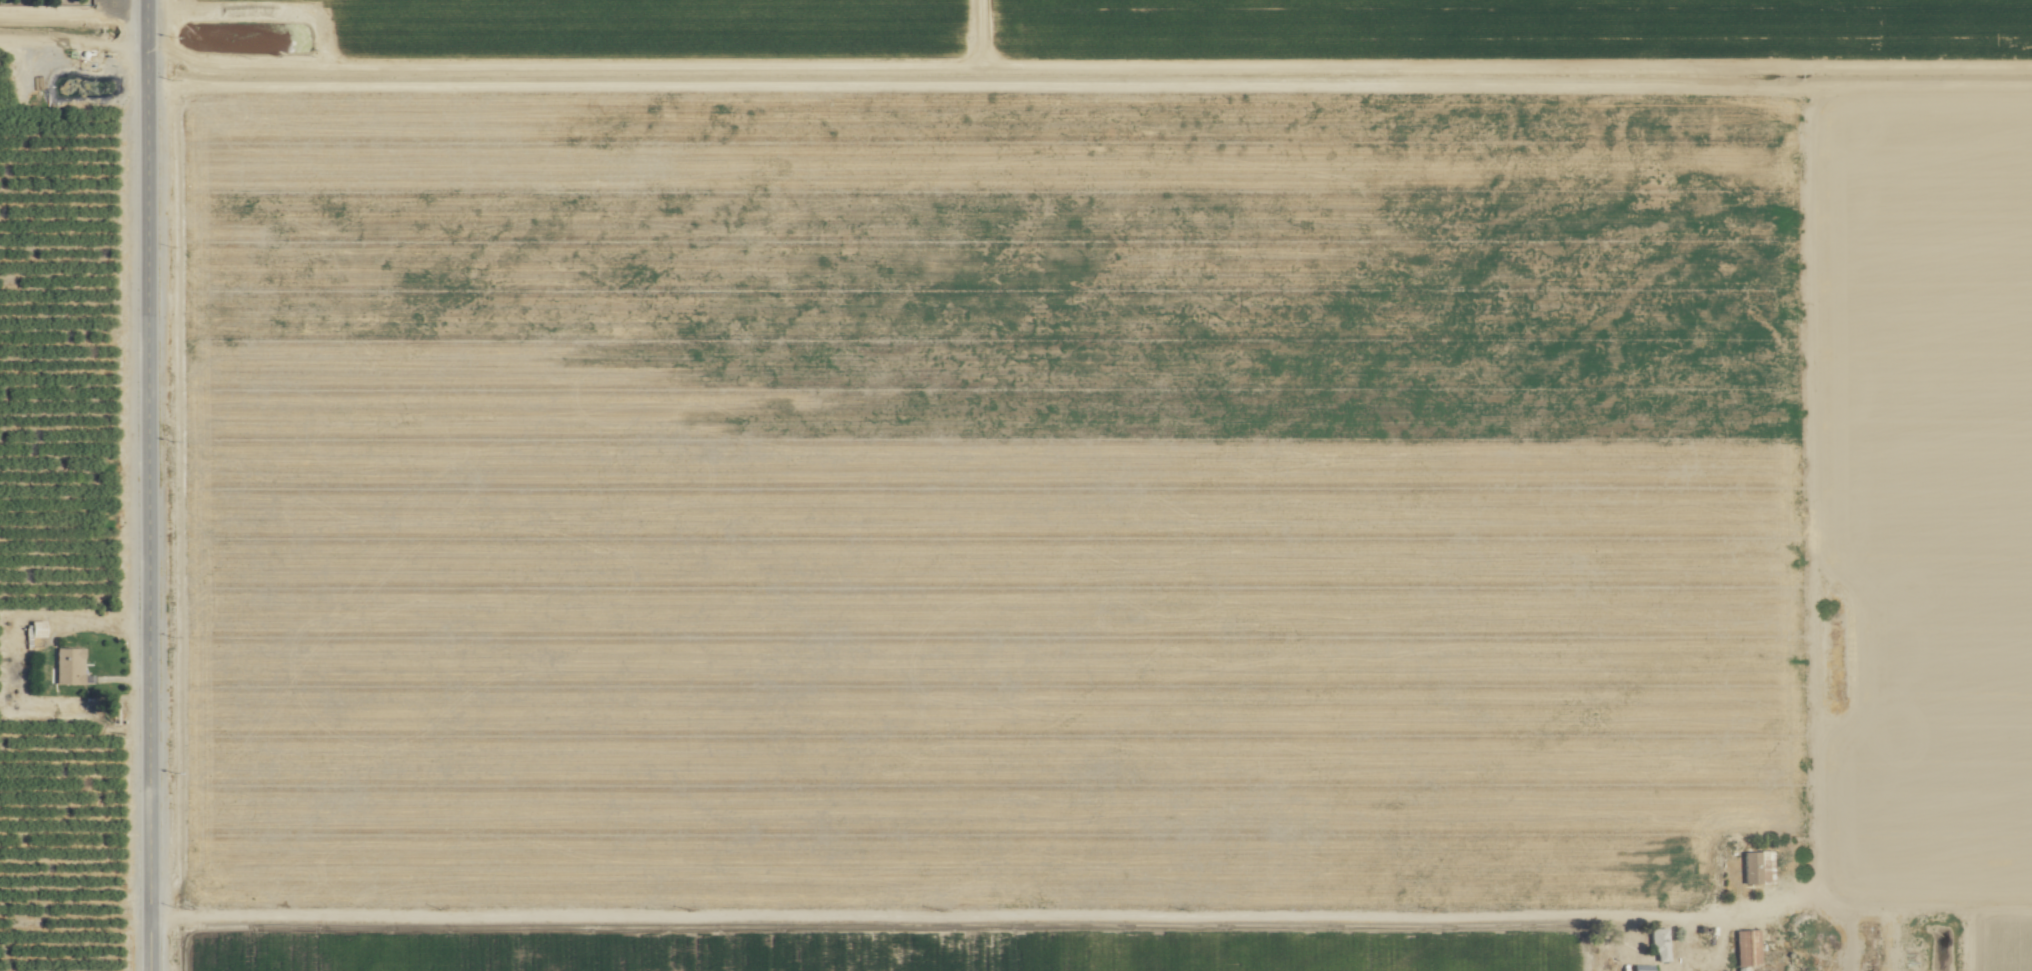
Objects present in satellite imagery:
road: (146, 485)
crop: (1016, 485)
building: (34, 628)
building: (67, 665)
building: (1756, 867)
road: (937, 915)
building: (1658, 944)

